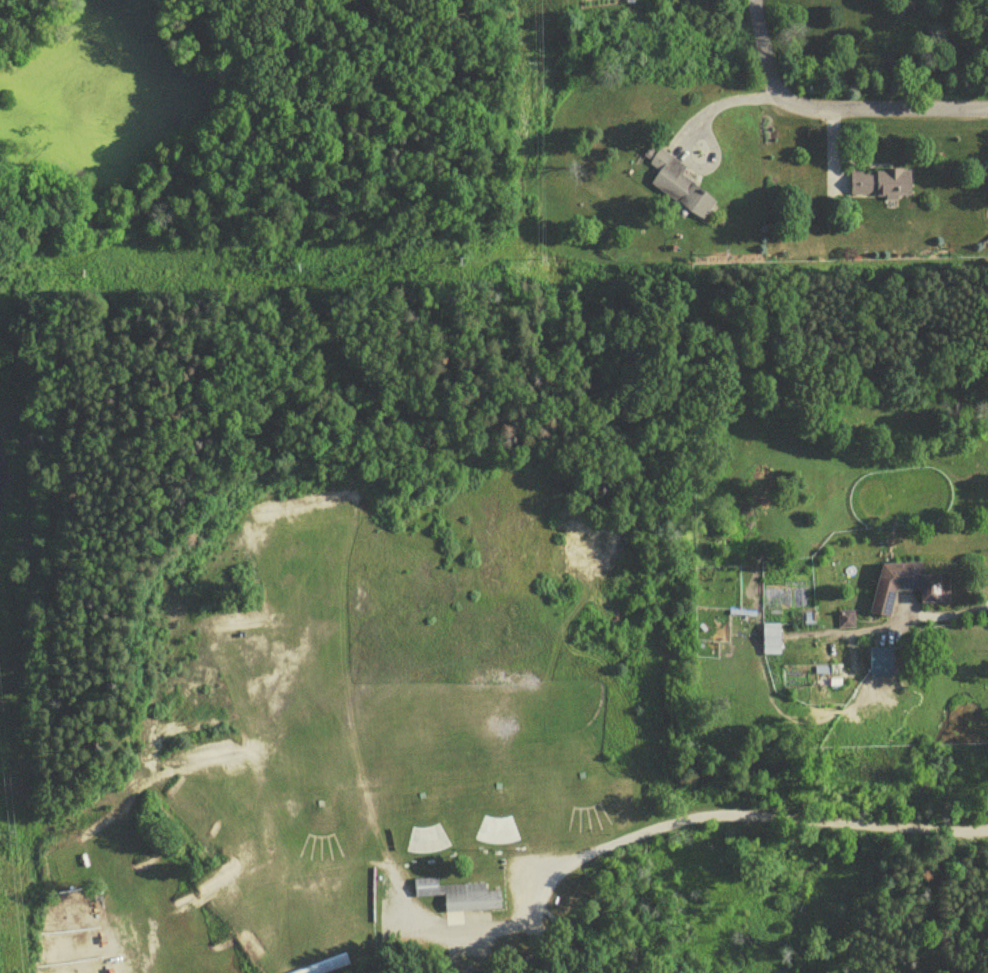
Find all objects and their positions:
road: (832, 106)
road: (723, 107)
building: (881, 188)
building: (679, 191)
building: (904, 591)
road: (948, 620)
building: (846, 625)
building: (771, 644)
building: (881, 664)
road: (710, 815)
road: (926, 891)
building: (459, 900)
building: (332, 968)

